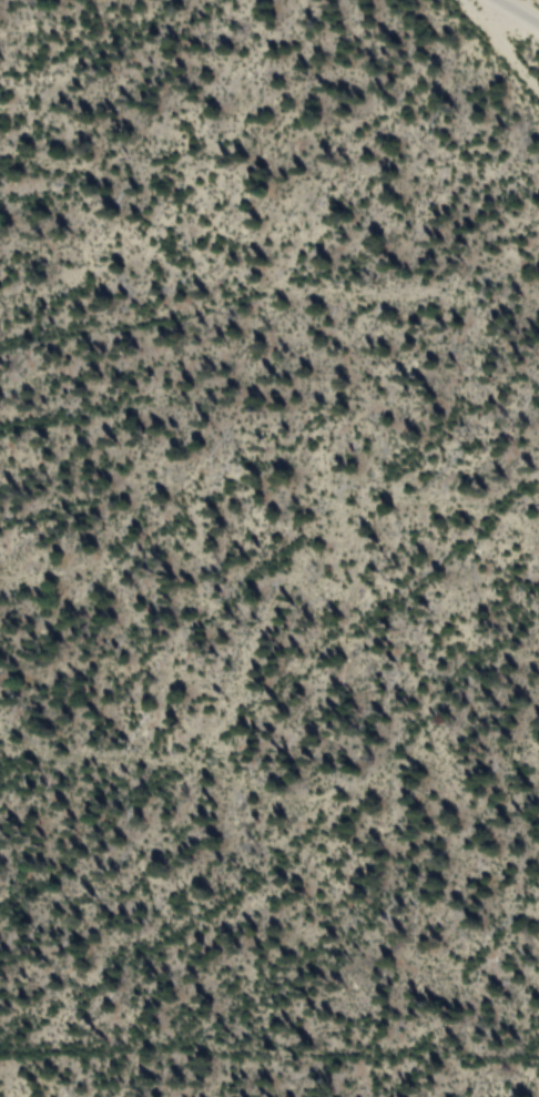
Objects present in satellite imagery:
road: (522, 9)
road: (513, 47)

